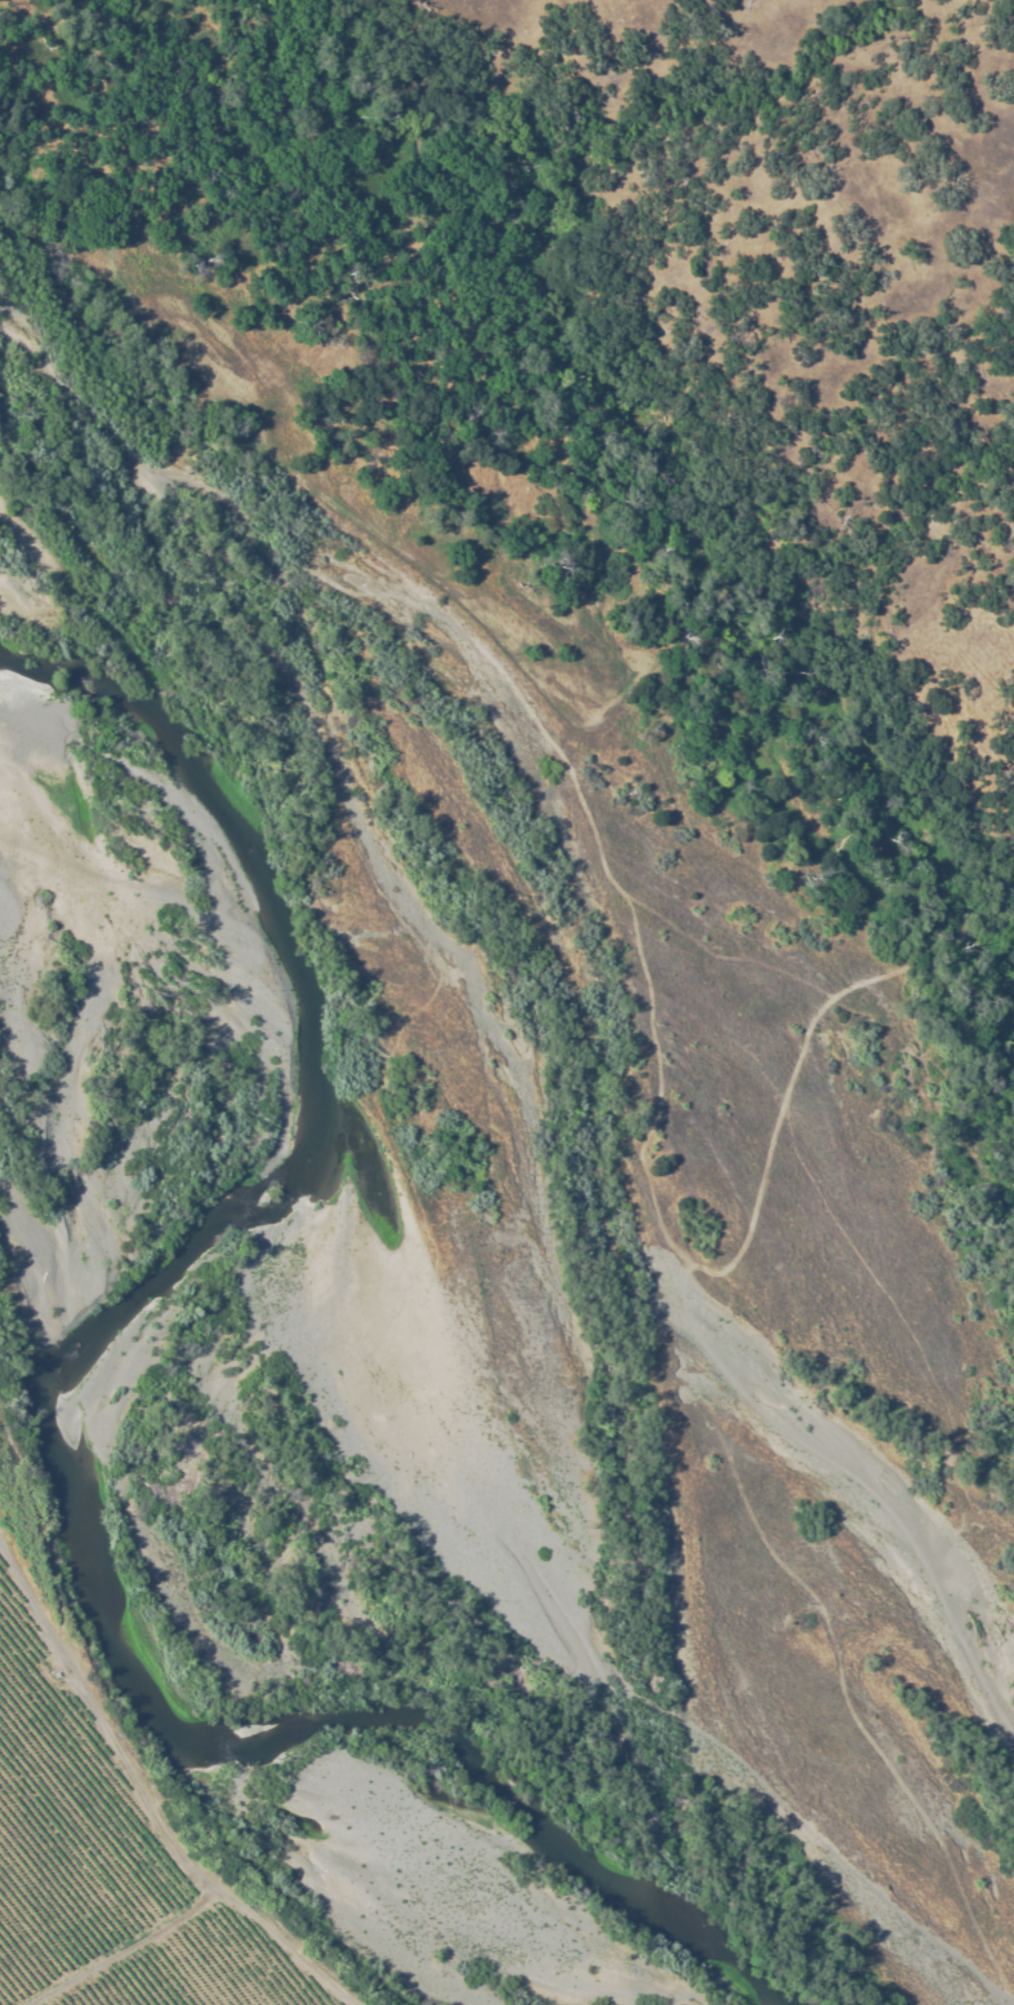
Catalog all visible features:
river: (61, 1340)

